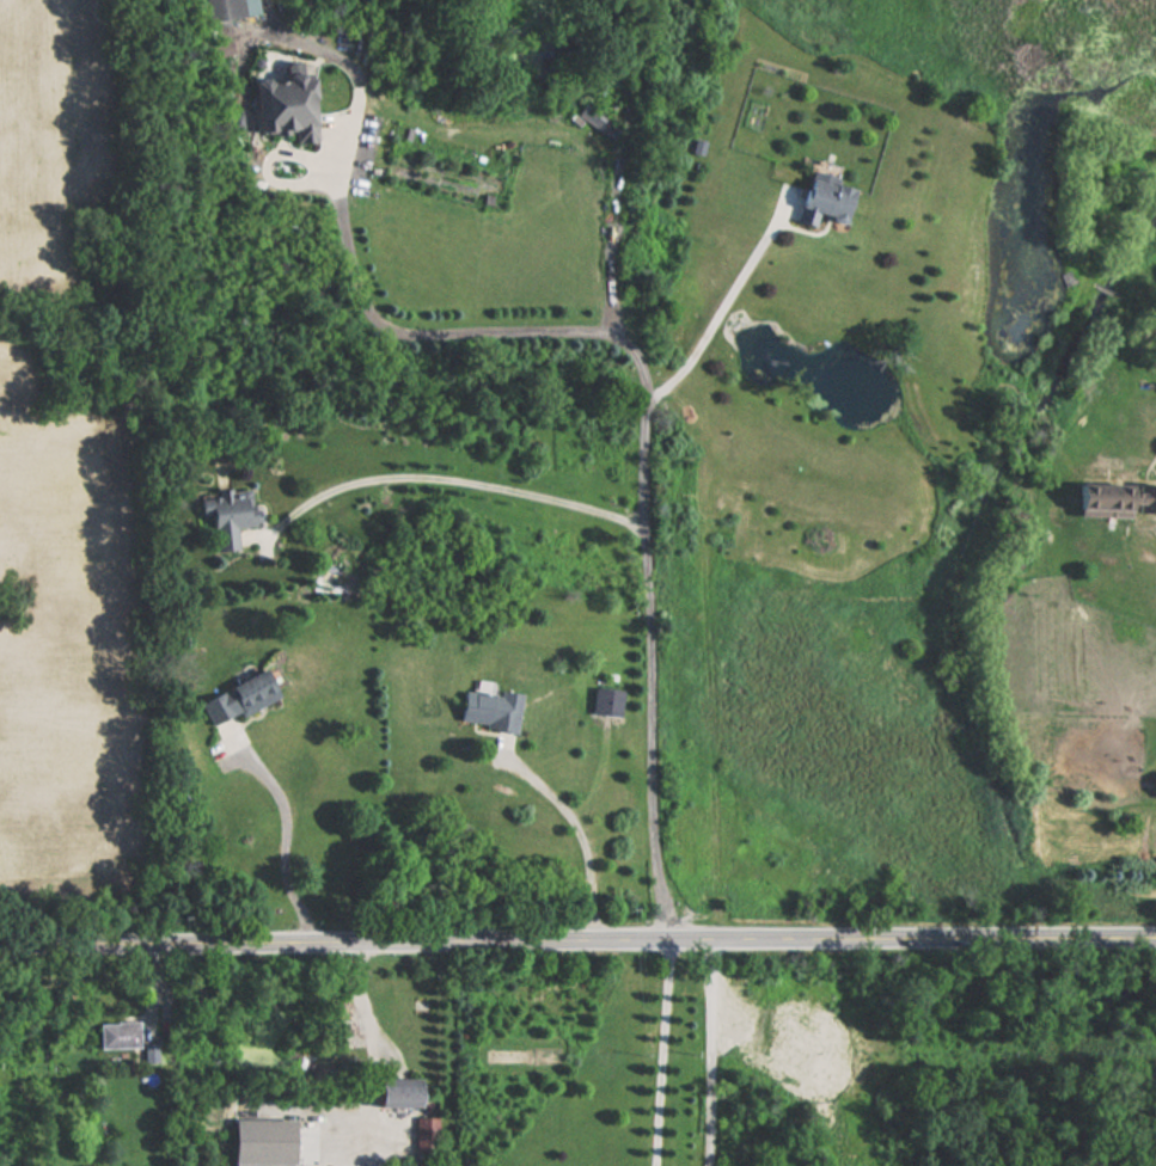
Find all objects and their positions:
building: (219, 11)
building: (280, 99)
building: (598, 122)
building: (820, 201)
road: (724, 306)
road: (646, 404)
road: (477, 483)
building: (1112, 497)
building: (228, 516)
building: (240, 695)
building: (605, 701)
building: (488, 708)
building: (1154, 786)
road: (582, 835)
road: (283, 849)
road: (577, 941)
building: (118, 1035)
road: (373, 1053)
road: (661, 1053)
road: (710, 1053)
building: (392, 1096)
building: (426, 1130)

